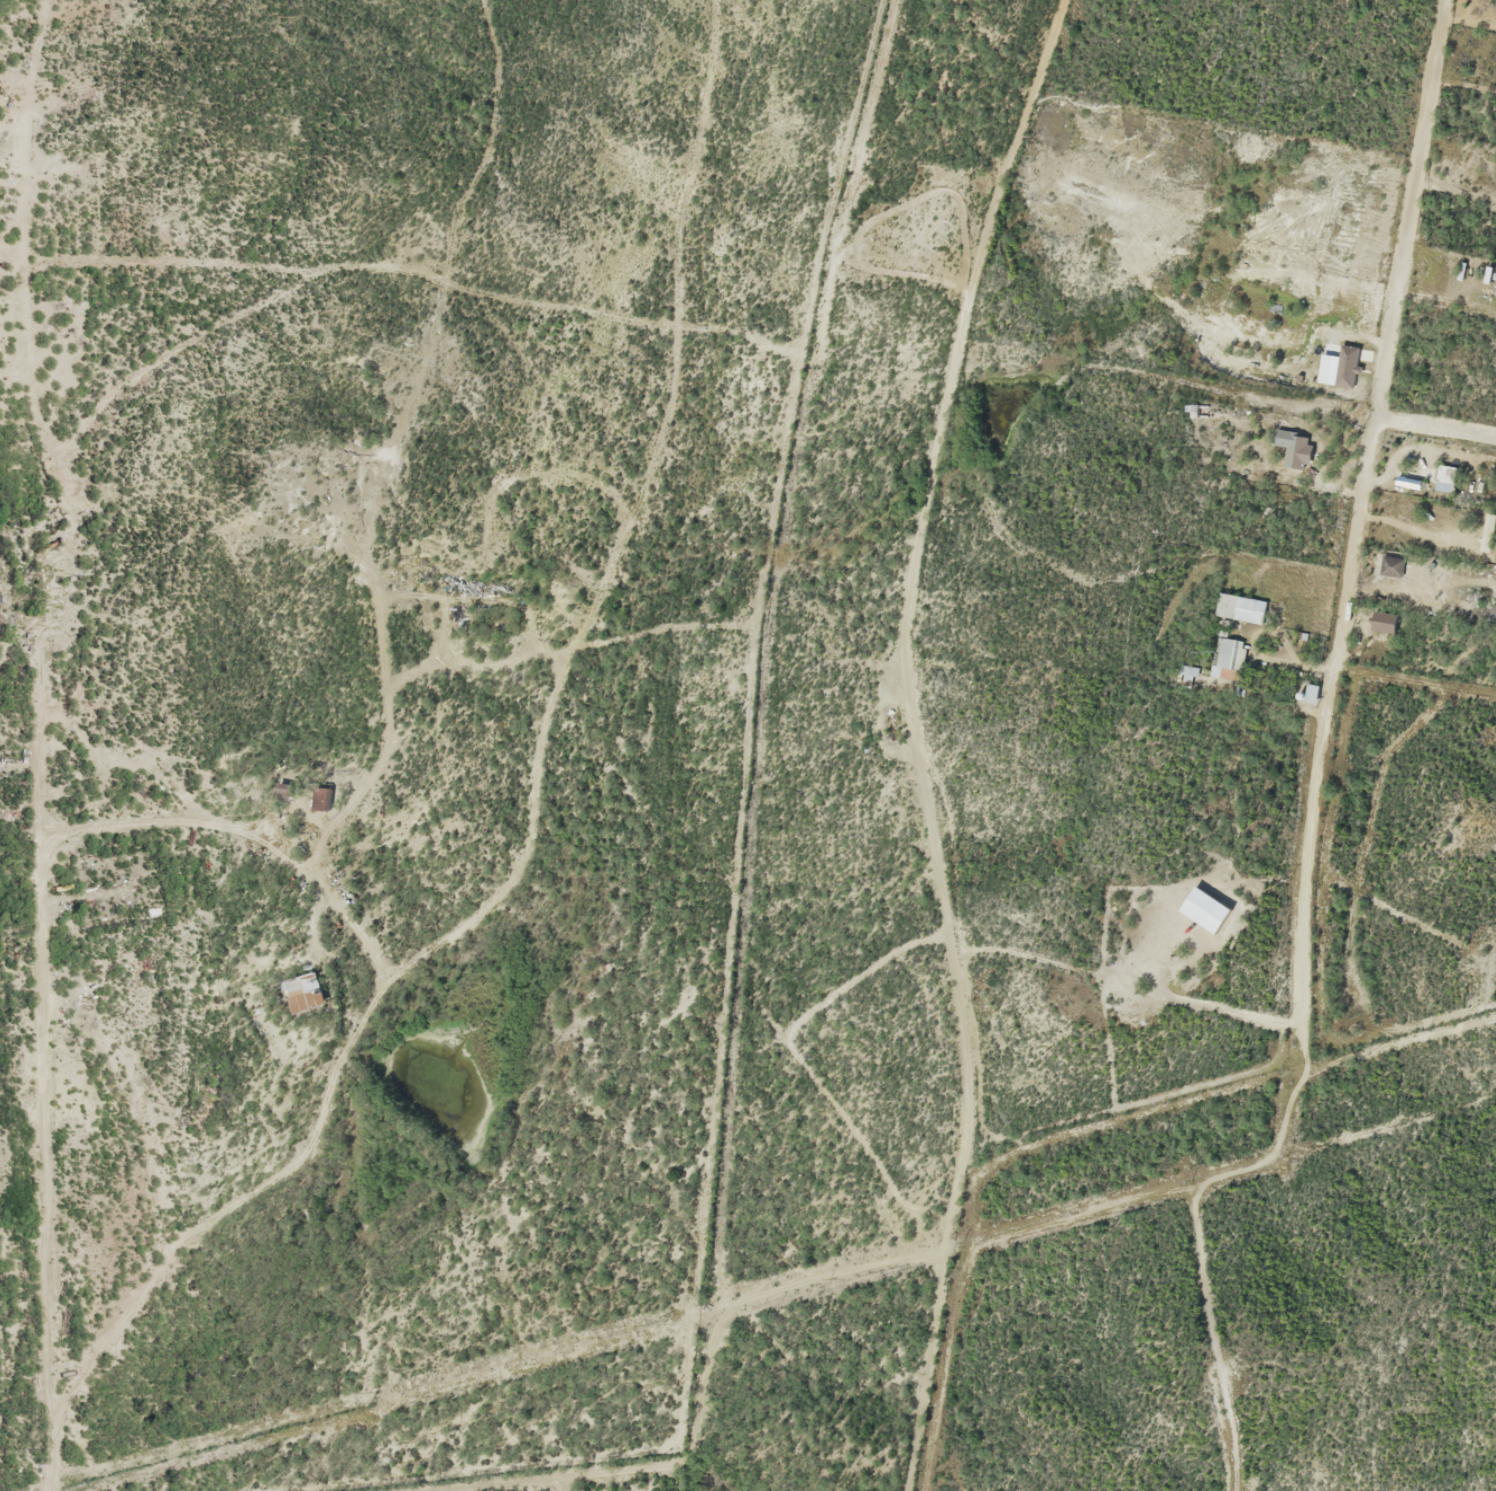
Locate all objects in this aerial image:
road: (1387, 341)
road: (1435, 427)
building: (1296, 456)
building: (1445, 479)
building: (1487, 533)
building: (1390, 567)
building: (1239, 608)
building: (1383, 621)
building: (1225, 652)
building: (1187, 672)
building: (1309, 692)

